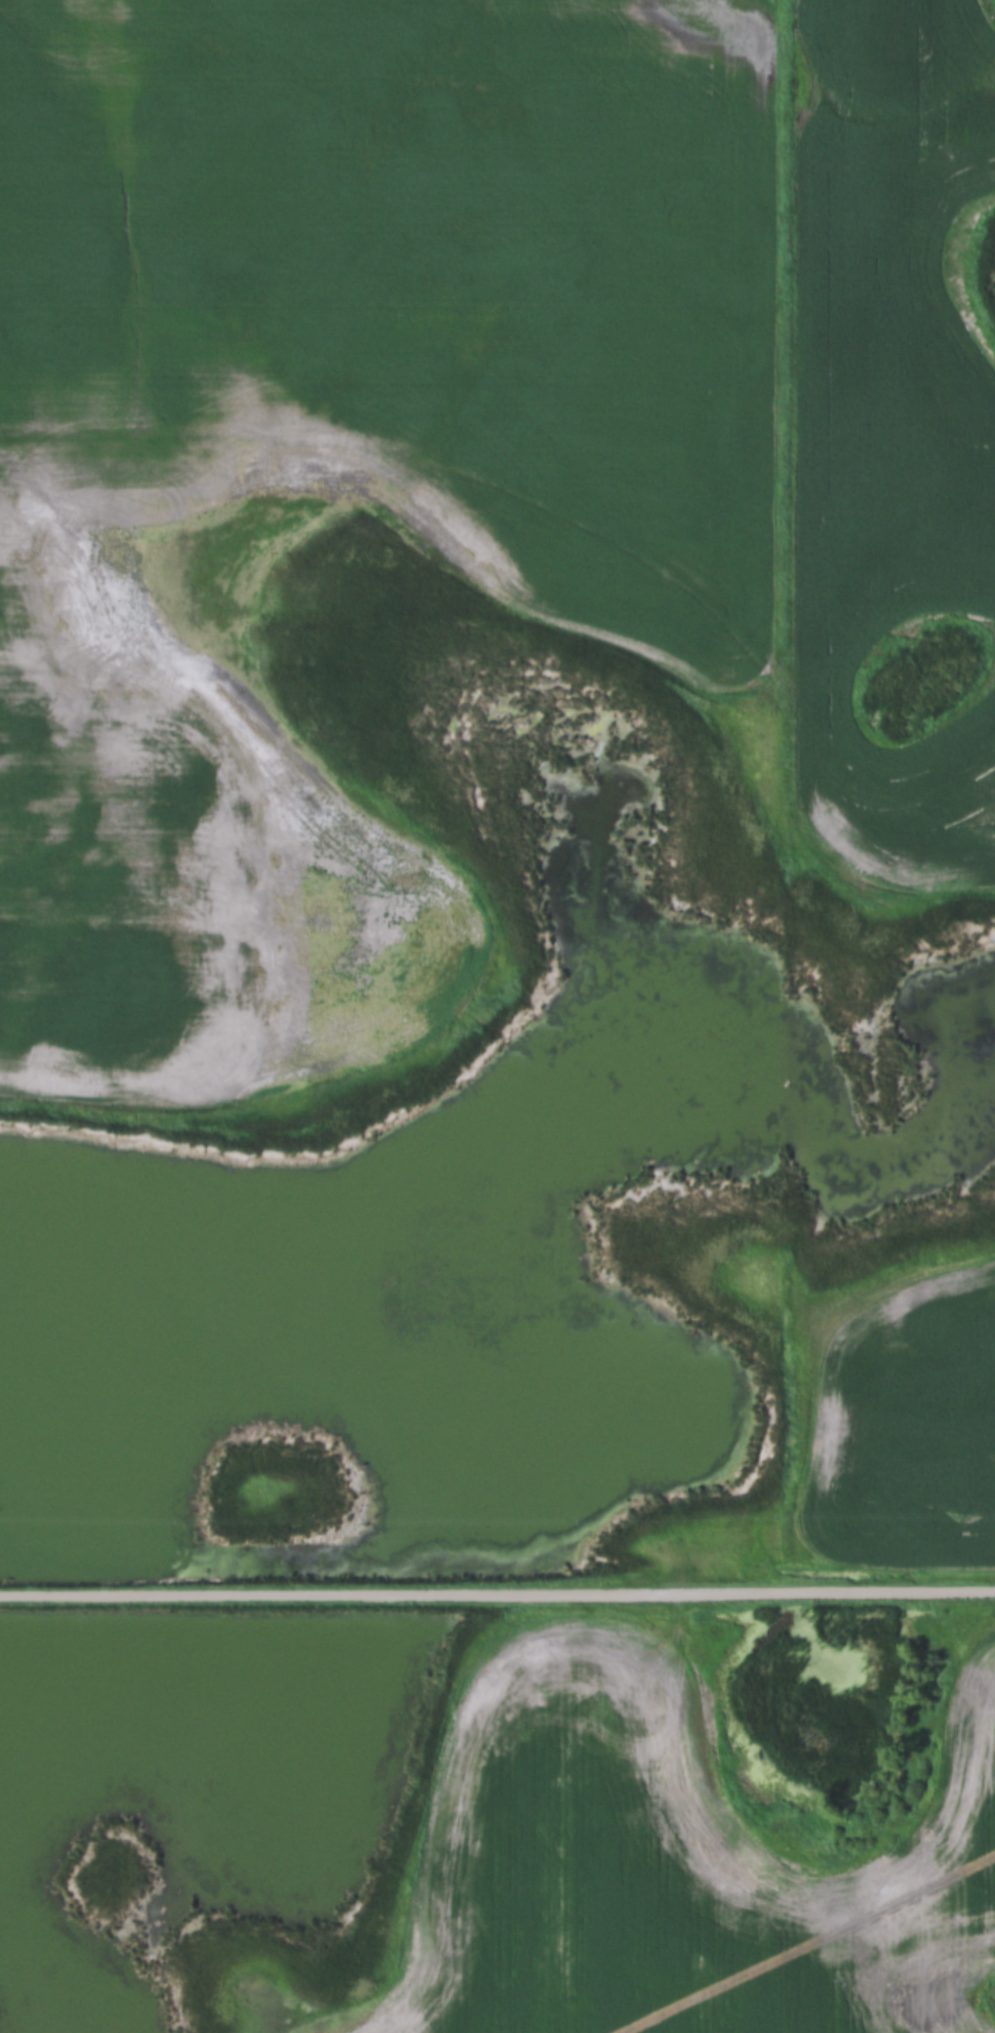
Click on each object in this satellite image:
road: (497, 1592)

